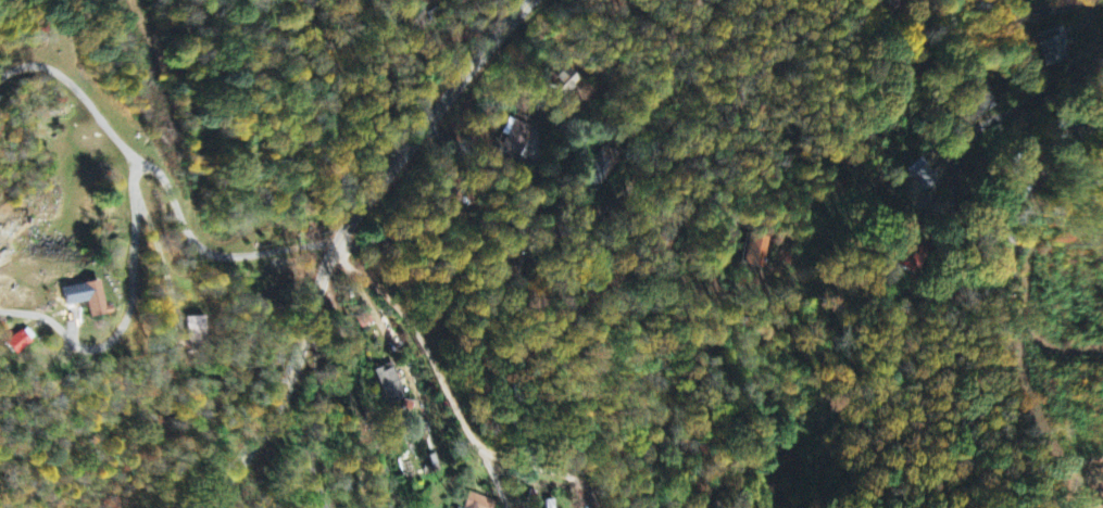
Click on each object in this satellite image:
road: (1044, 7)
building: (1052, 48)
road: (77, 88)
building: (576, 105)
road: (870, 117)
road: (571, 151)
road: (960, 167)
building: (919, 175)
road: (621, 200)
road: (339, 237)
road: (211, 251)
building: (756, 253)
building: (91, 300)
building: (18, 343)
building: (390, 382)
road: (355, 392)
road: (452, 398)
road: (494, 477)
building: (478, 501)

